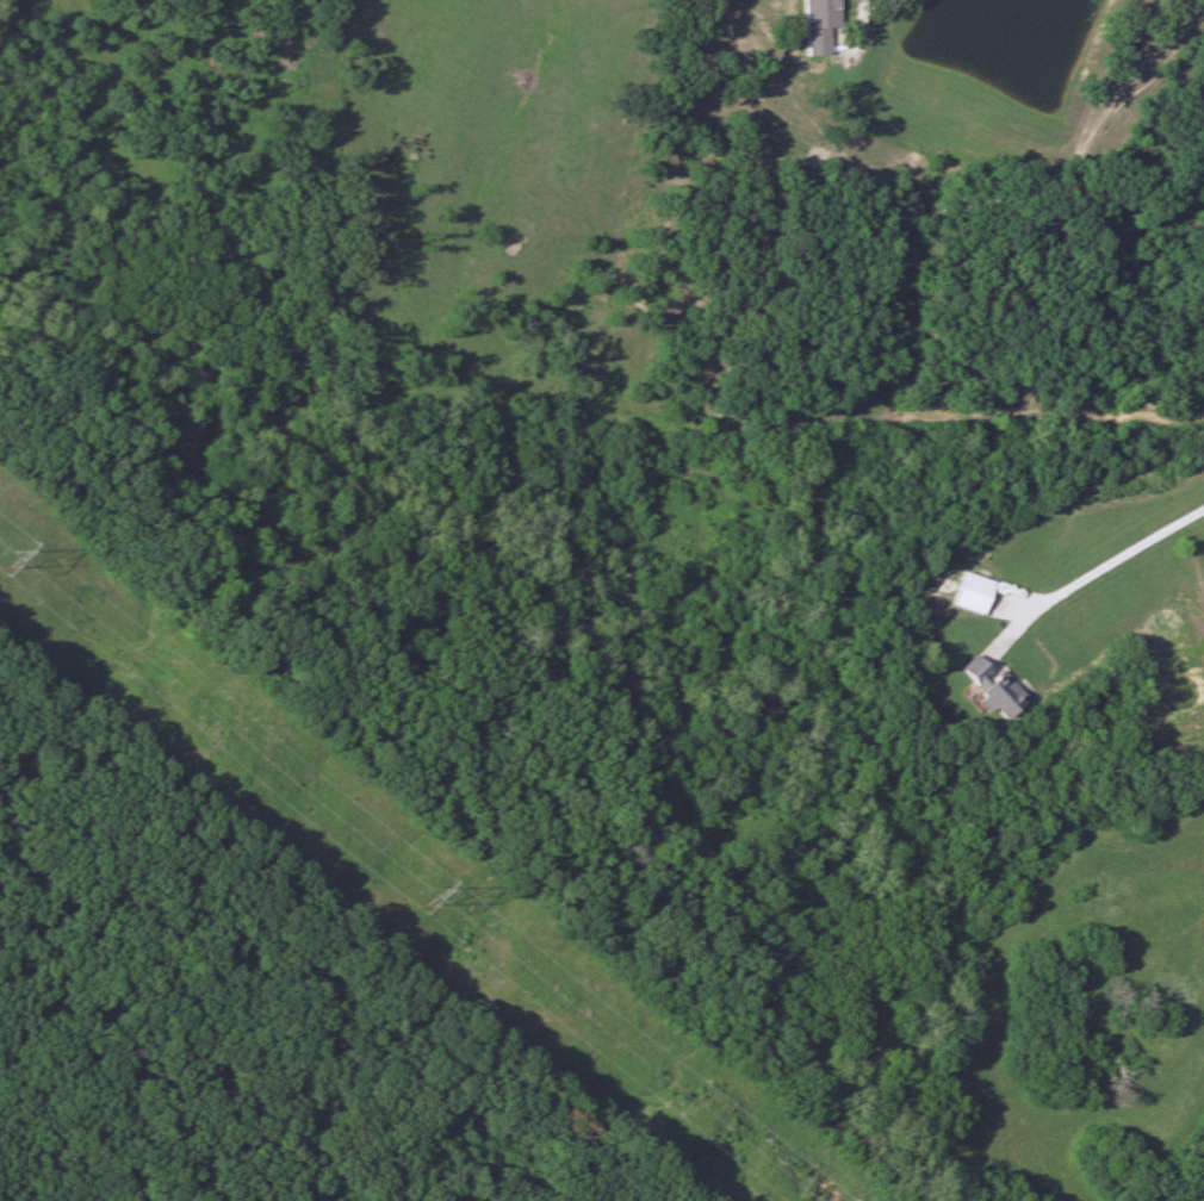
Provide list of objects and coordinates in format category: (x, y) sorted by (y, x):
building: (814, 27)
power tower: (1, 558)
road: (1097, 566)
building: (962, 592)
building: (987, 686)
power tower: (423, 897)

